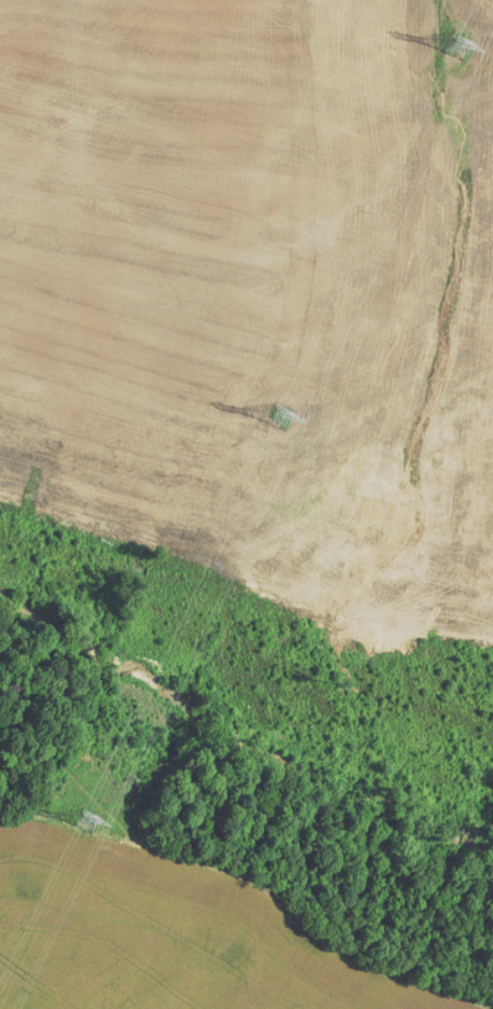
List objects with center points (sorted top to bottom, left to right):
power tower: (460, 46)
power tower: (282, 417)
power tower: (88, 821)

